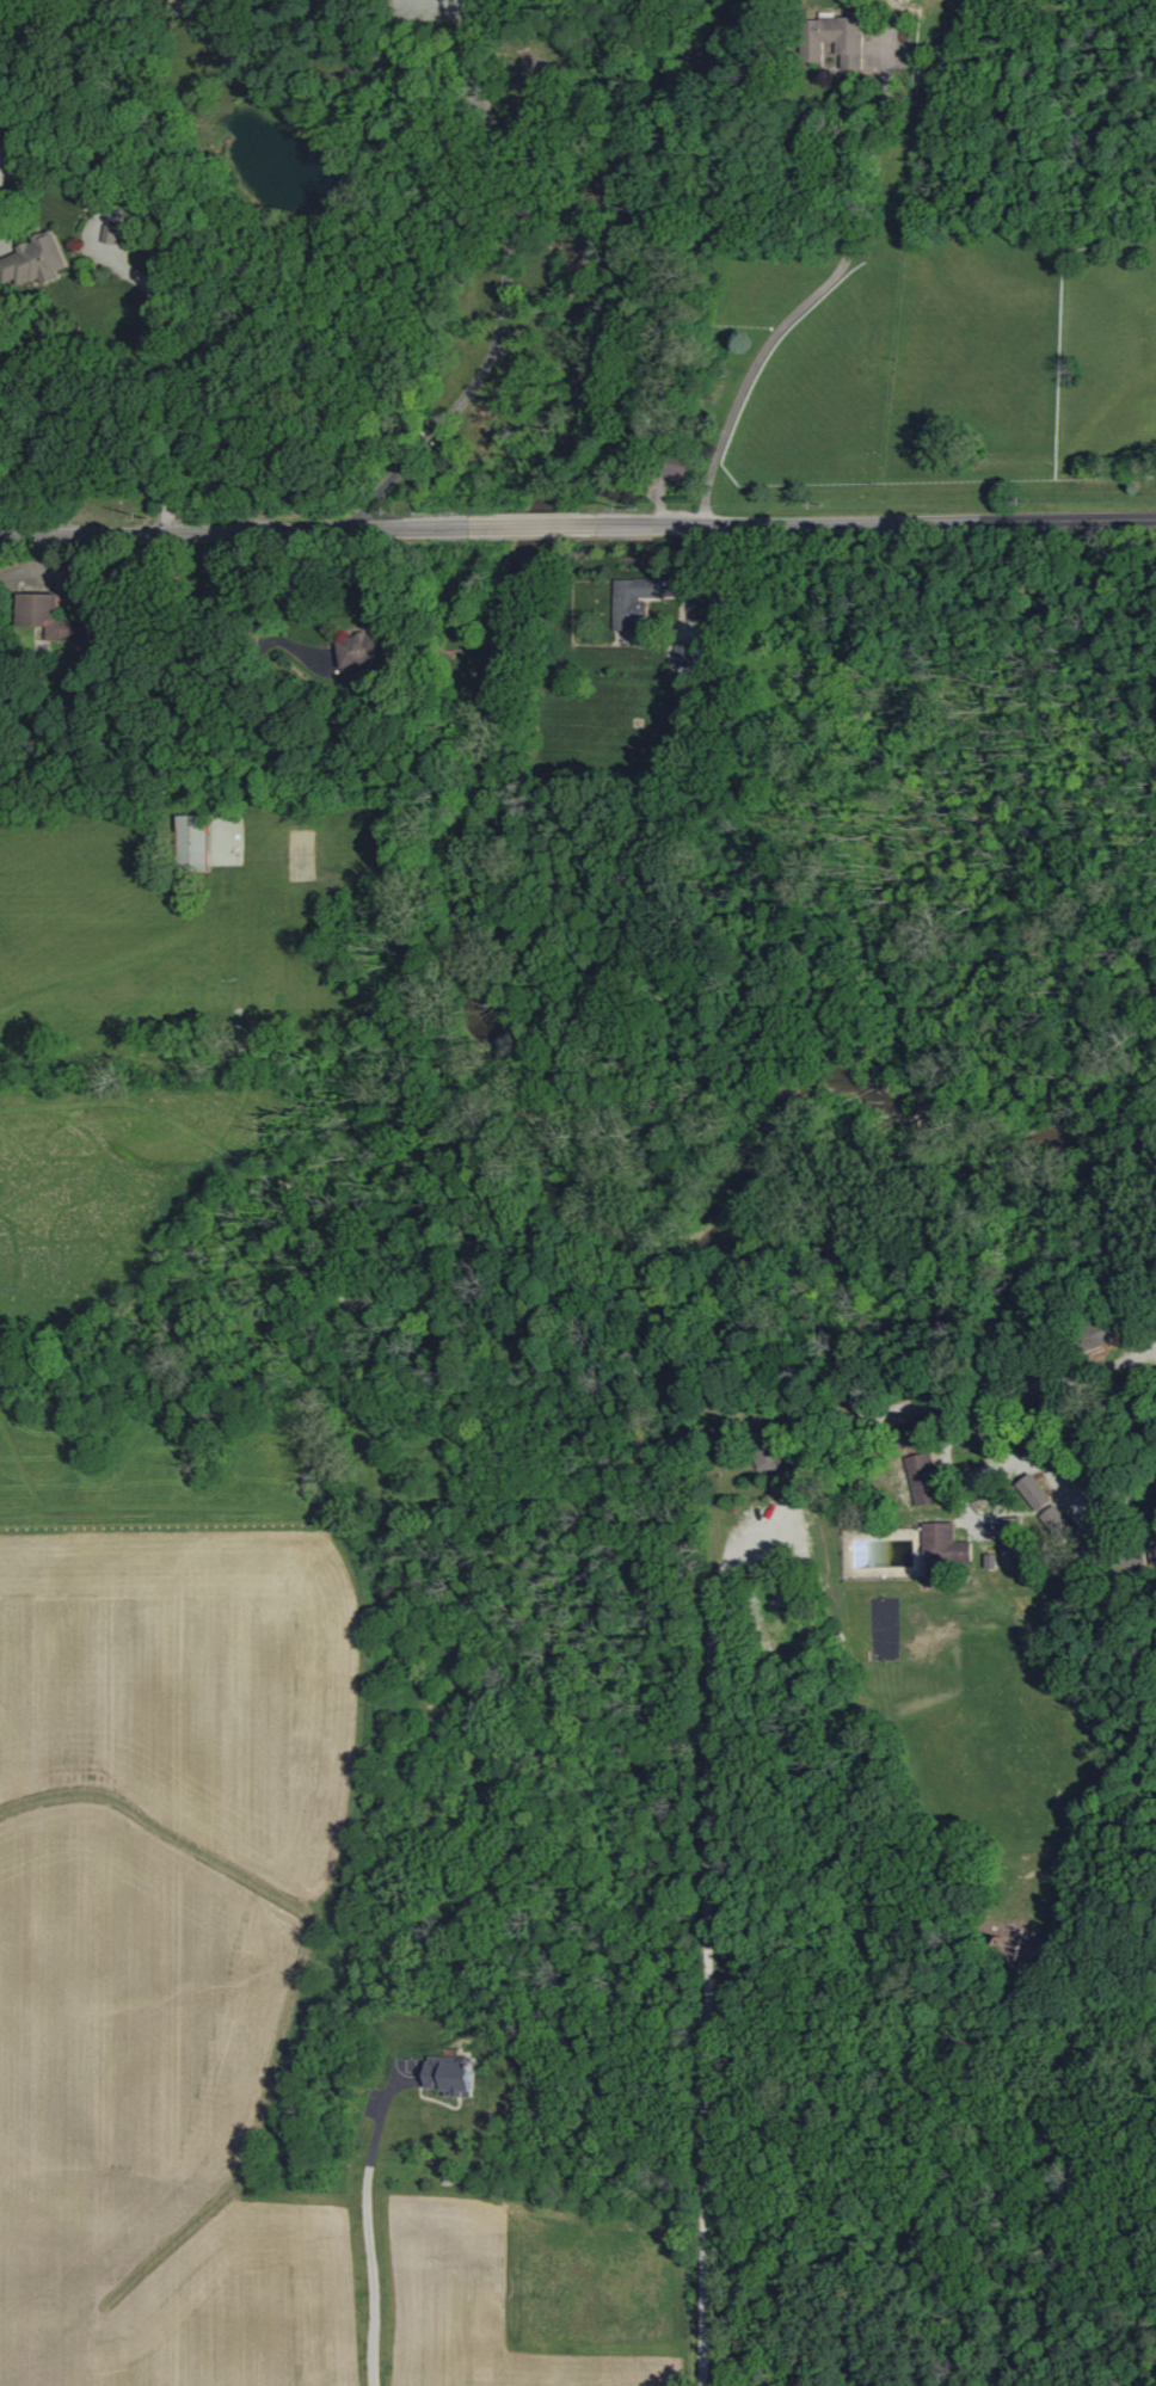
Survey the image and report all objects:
building: (836, 37)
building: (111, 233)
road: (508, 236)
building: (36, 259)
road: (803, 306)
road: (165, 382)
road: (578, 529)
building: (634, 605)
road: (259, 614)
building: (50, 617)
building: (362, 648)
building: (688, 653)
building: (192, 840)
building: (920, 1468)
road: (709, 1899)
road: (364, 2219)

